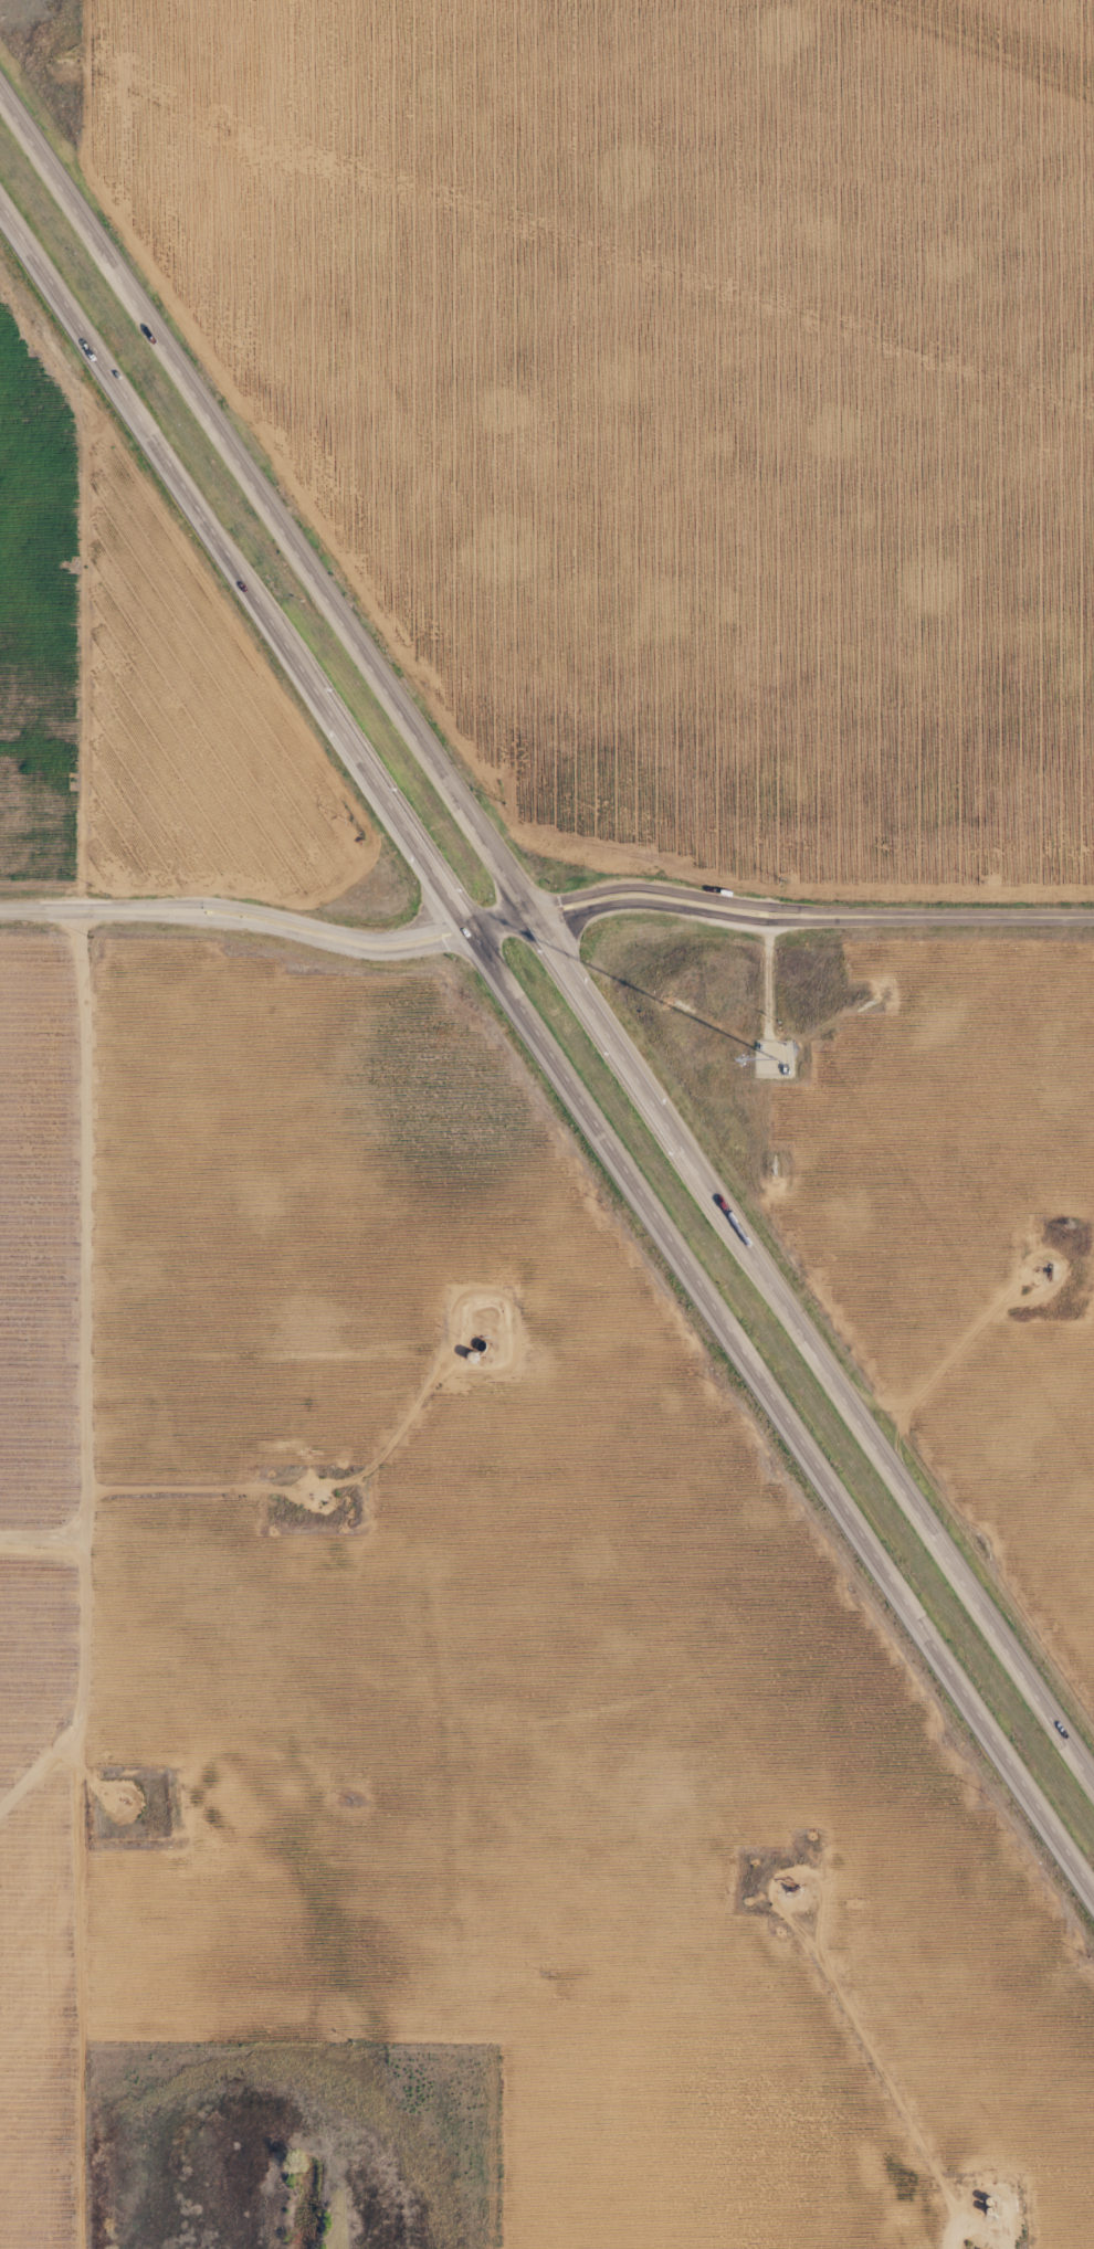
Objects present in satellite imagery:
road: (809, 918)
road: (267, 929)
road: (546, 948)
road: (546, 1054)
road: (53, 1326)

